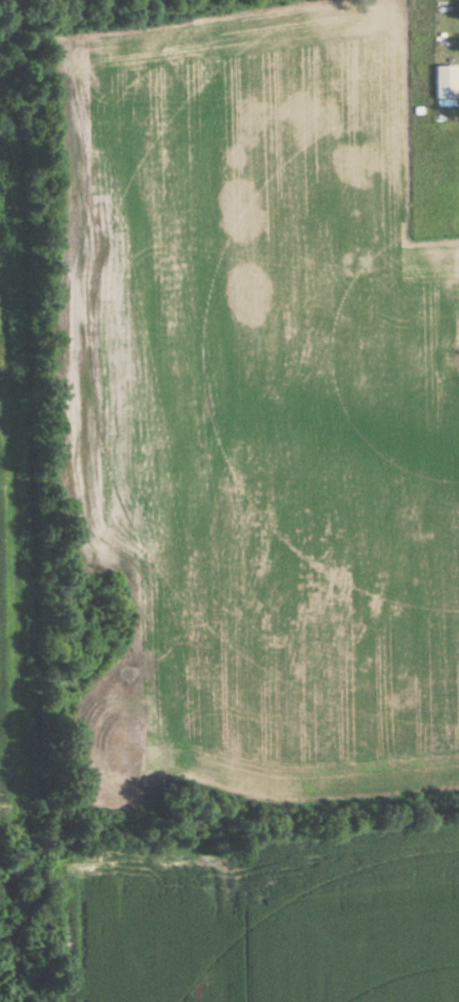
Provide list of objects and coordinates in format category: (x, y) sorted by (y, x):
building: (447, 79)

